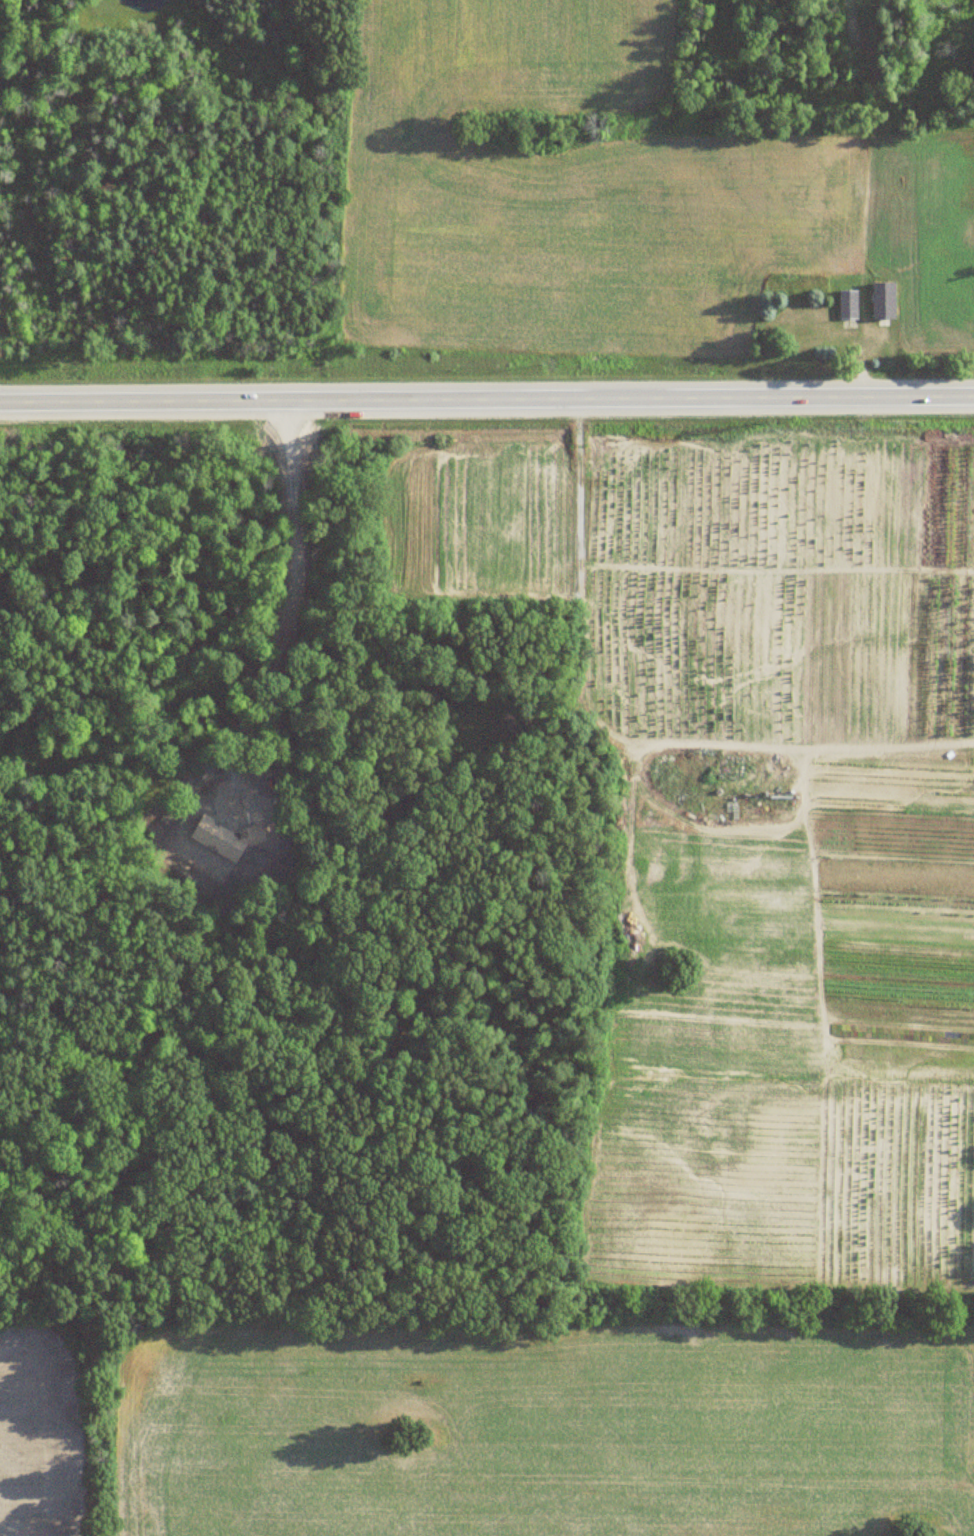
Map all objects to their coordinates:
building: (884, 300)
building: (848, 303)
road: (487, 400)
road: (288, 608)

